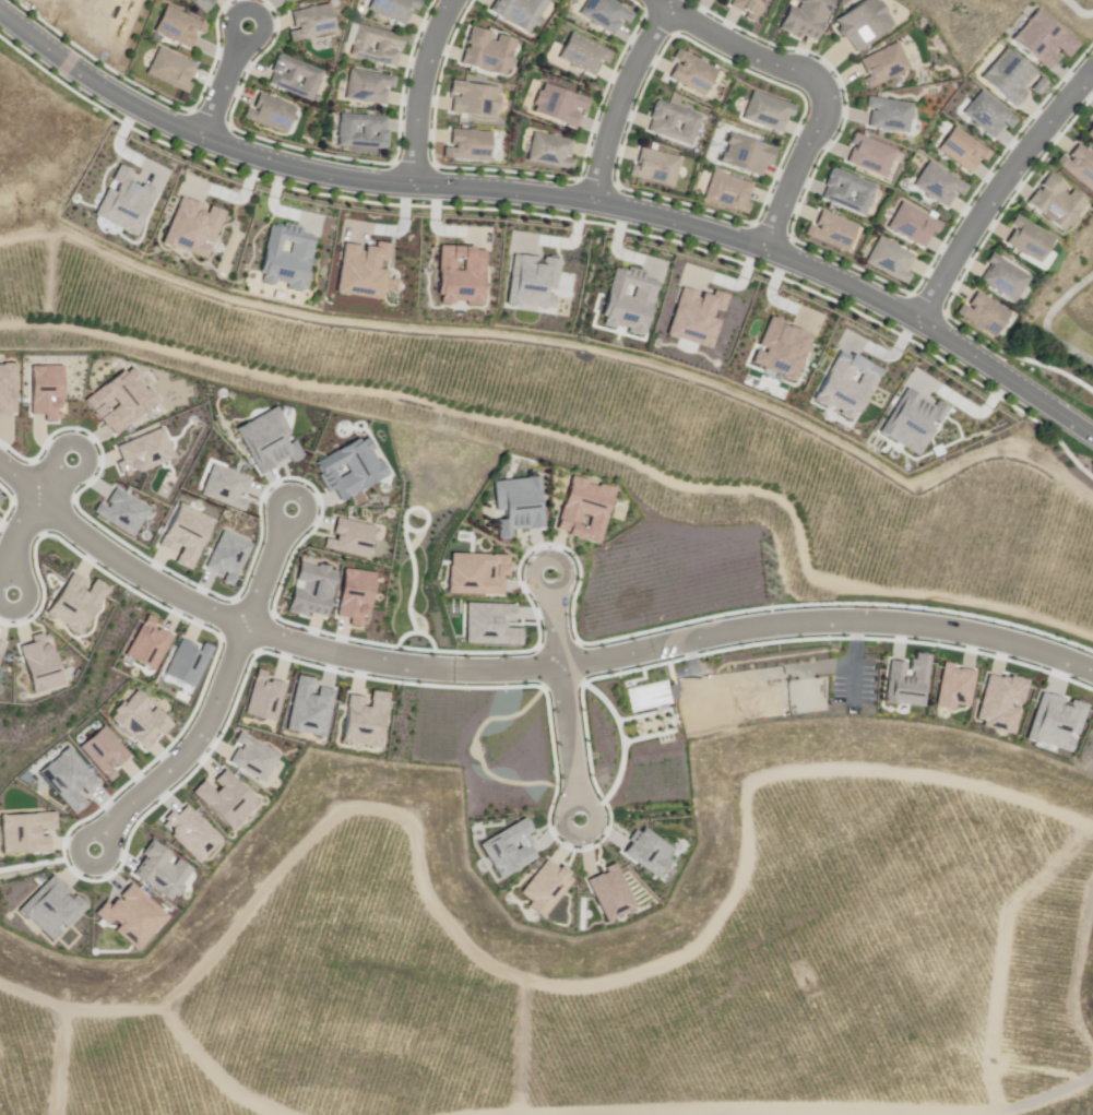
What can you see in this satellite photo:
building: (296, 0)
building: (207, 4)
building: (400, 8)
building: (753, 8)
road: (1078, 10)
building: (524, 12)
building: (609, 14)
park: (1072, 15)
park: (1072, 15)
building: (812, 17)
building: (314, 23)
building: (870, 24)
park: (970, 24)
park: (970, 24)
building: (183, 27)
building: (1042, 38)
building: (381, 46)
road: (741, 46)
building: (494, 51)
building: (586, 55)
building: (889, 66)
building: (176, 71)
building: (697, 73)
building: (1008, 76)
building: (299, 78)
road: (225, 80)
building: (373, 86)
road: (418, 87)
road: (618, 98)
building: (477, 99)
building: (563, 106)
building: (772, 112)
building: (274, 114)
building: (894, 115)
building: (988, 115)
building: (678, 124)
building: (1090, 131)
building: (366, 132)
building: (471, 145)
building: (963, 150)
building: (555, 152)
building: (752, 155)
building: (875, 156)
building: (1079, 165)
building: (658, 167)
road: (797, 170)
building: (939, 185)
road: (998, 187)
building: (847, 191)
building: (734, 192)
road: (554, 195)
building: (129, 199)
building: (1056, 202)
building: (913, 225)
building: (193, 229)
building: (832, 230)
building: (1029, 238)
building: (288, 257)
building: (890, 260)
building: (462, 266)
building: (361, 270)
building: (542, 277)
building: (1003, 277)
road: (36, 300)
building: (623, 301)
park: (1069, 307)
park: (1069, 307)
building: (702, 309)
building: (984, 313)
road: (1053, 321)
building: (779, 351)
building: (848, 378)
building: (47, 388)
building: (8, 390)
building: (122, 401)
building: (908, 407)
road: (586, 422)
building: (265, 438)
building: (144, 451)
building: (352, 467)
road: (51, 482)
building: (227, 486)
building: (2, 499)
building: (519, 502)
building: (122, 510)
building: (584, 510)
building: (186, 535)
building: (354, 536)
road: (12, 544)
building: (229, 558)
road: (270, 570)
building: (471, 574)
building: (311, 588)
building: (358, 598)
building: (74, 602)
road: (550, 620)
building: (496, 624)
building: (1, 644)
building: (151, 645)
building: (41, 664)
building: (187, 665)
road: (524, 666)
building: (911, 680)
building: (957, 687)
building: (266, 693)
building: (650, 696)
building: (1001, 704)
building: (309, 709)
building: (709, 710)
building: (145, 720)
building: (367, 720)
building: (1060, 723)
road: (566, 743)
road: (188, 751)
building: (107, 752)
building: (253, 757)
building: (72, 780)
building: (225, 798)
building: (28, 832)
building: (191, 834)
building: (508, 849)
building: (652, 853)
building: (164, 873)
building: (546, 887)
building: (610, 892)
building: (50, 910)
building: (131, 917)

